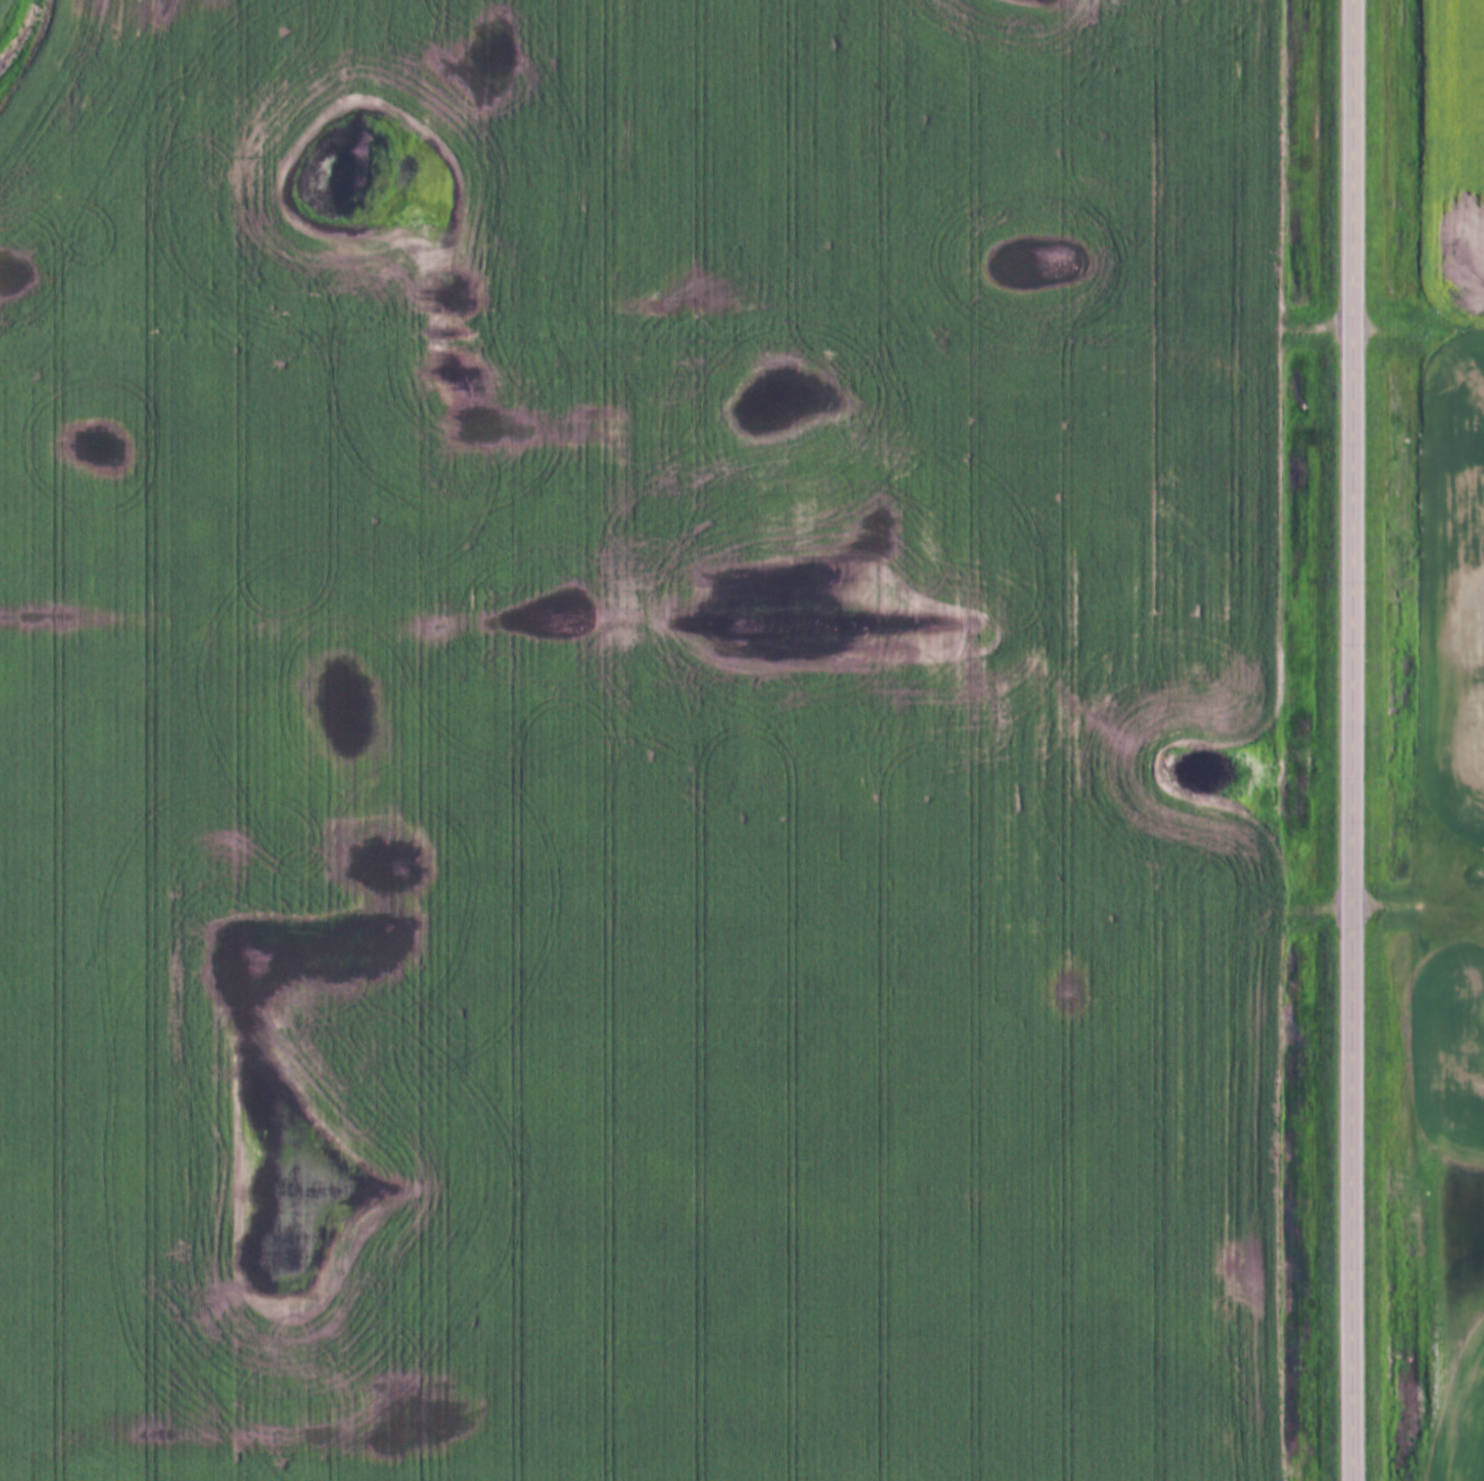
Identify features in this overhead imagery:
road: (1350, 740)

